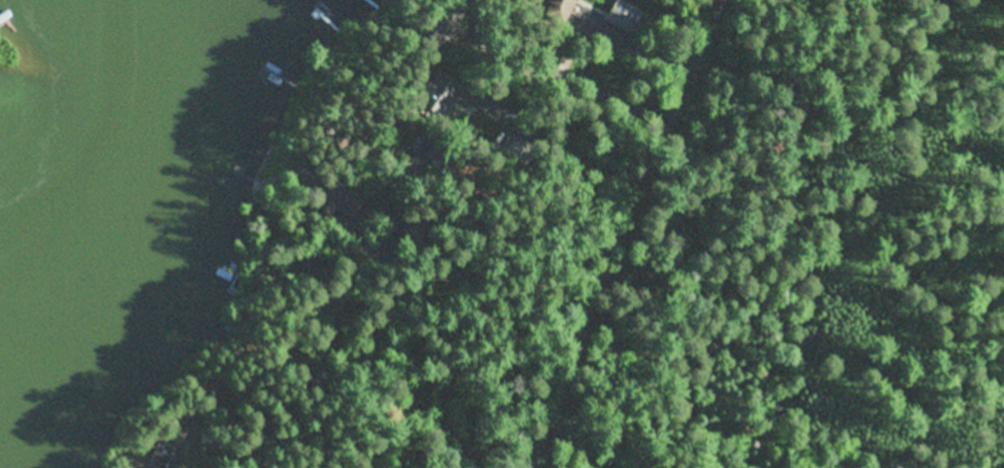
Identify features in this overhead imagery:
building: (562, 7)
building: (628, 14)
building: (446, 20)
building: (558, 54)
building: (476, 108)
building: (520, 150)
building: (416, 159)
river: (114, 168)
building: (340, 200)
building: (413, 240)
road: (611, 257)
building: (317, 272)
building: (316, 305)
building: (324, 372)
building: (208, 381)
road: (425, 393)
building: (211, 440)
building: (167, 453)

